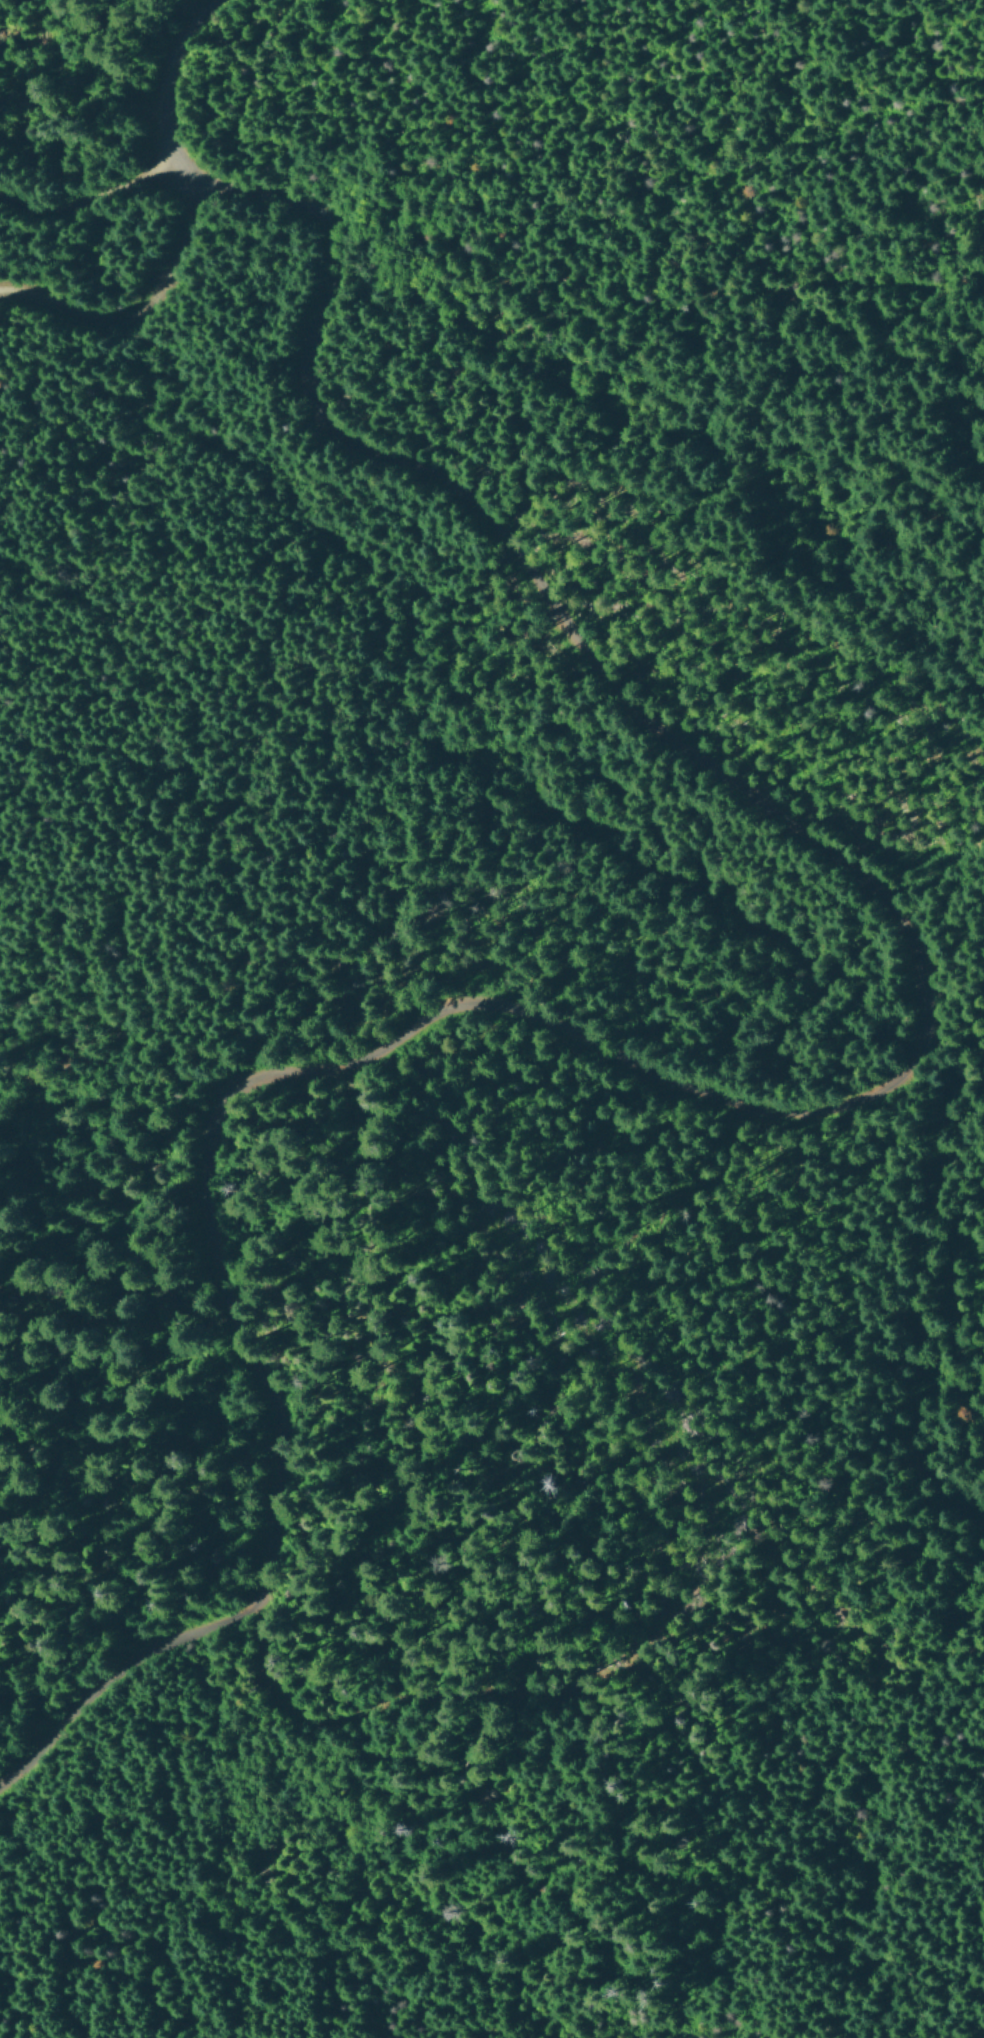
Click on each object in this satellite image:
road: (92, 195)
road: (140, 307)
road: (867, 1097)

